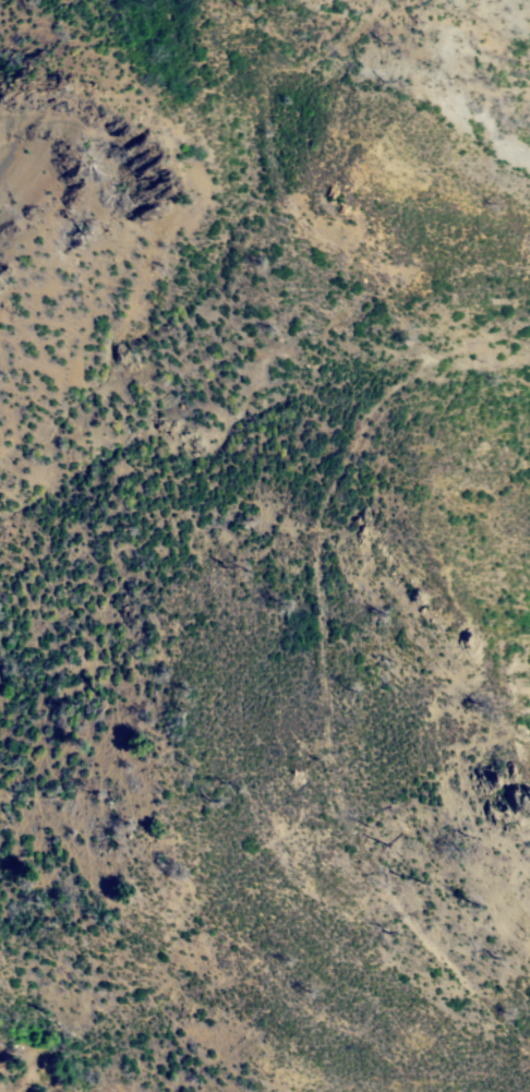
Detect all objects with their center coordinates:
road: (333, 485)
road: (75, 1078)

